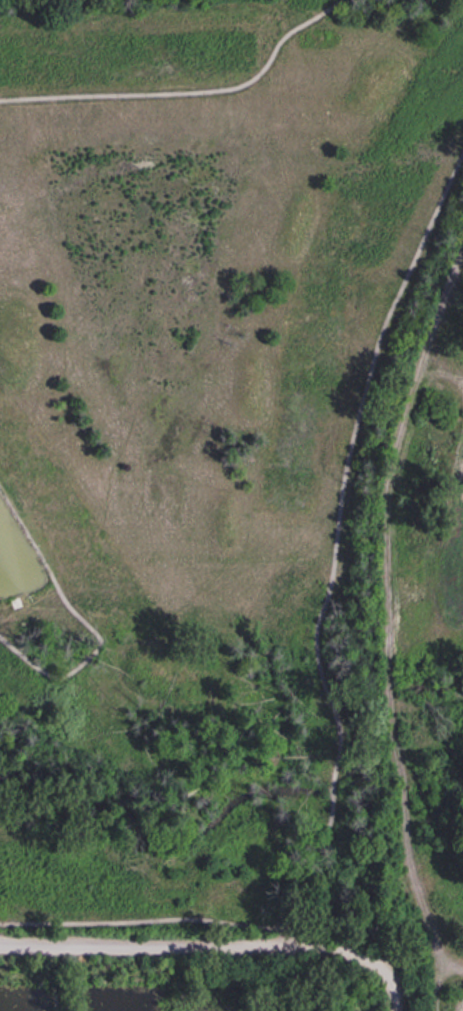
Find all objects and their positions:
road: (188, 91)
road: (445, 283)
park: (206, 392)
road: (345, 479)
road: (43, 555)
road: (12, 645)
road: (387, 648)
park: (190, 916)
road: (142, 921)
road: (221, 936)
road: (448, 969)
road: (329, 973)

